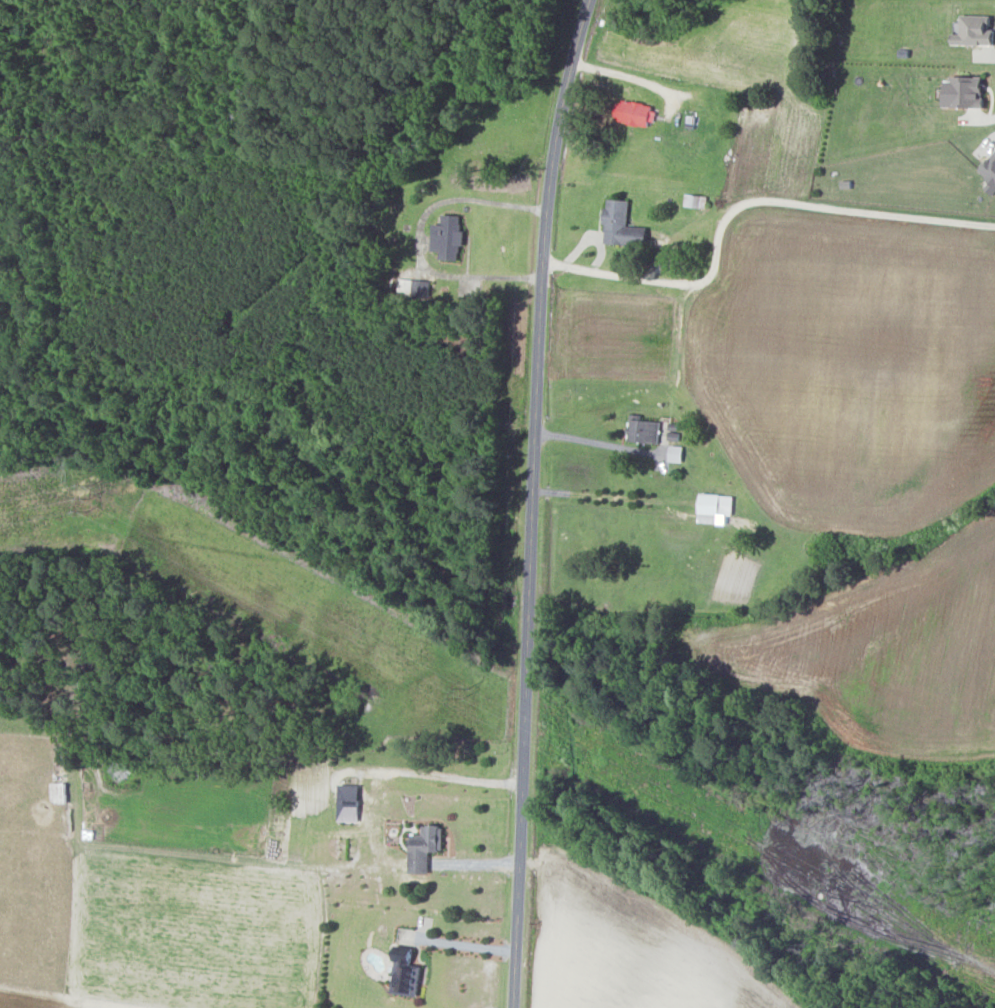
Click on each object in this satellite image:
building: (975, 32)
building: (965, 92)
building: (635, 114)
building: (990, 174)
road: (756, 204)
building: (622, 224)
building: (448, 236)
building: (644, 429)
building: (676, 453)
power tower: (84, 498)
road: (534, 501)
building: (715, 506)
power tower: (464, 695)
building: (349, 802)
building: (424, 848)
power tower: (825, 889)
road: (461, 945)
building: (406, 975)

